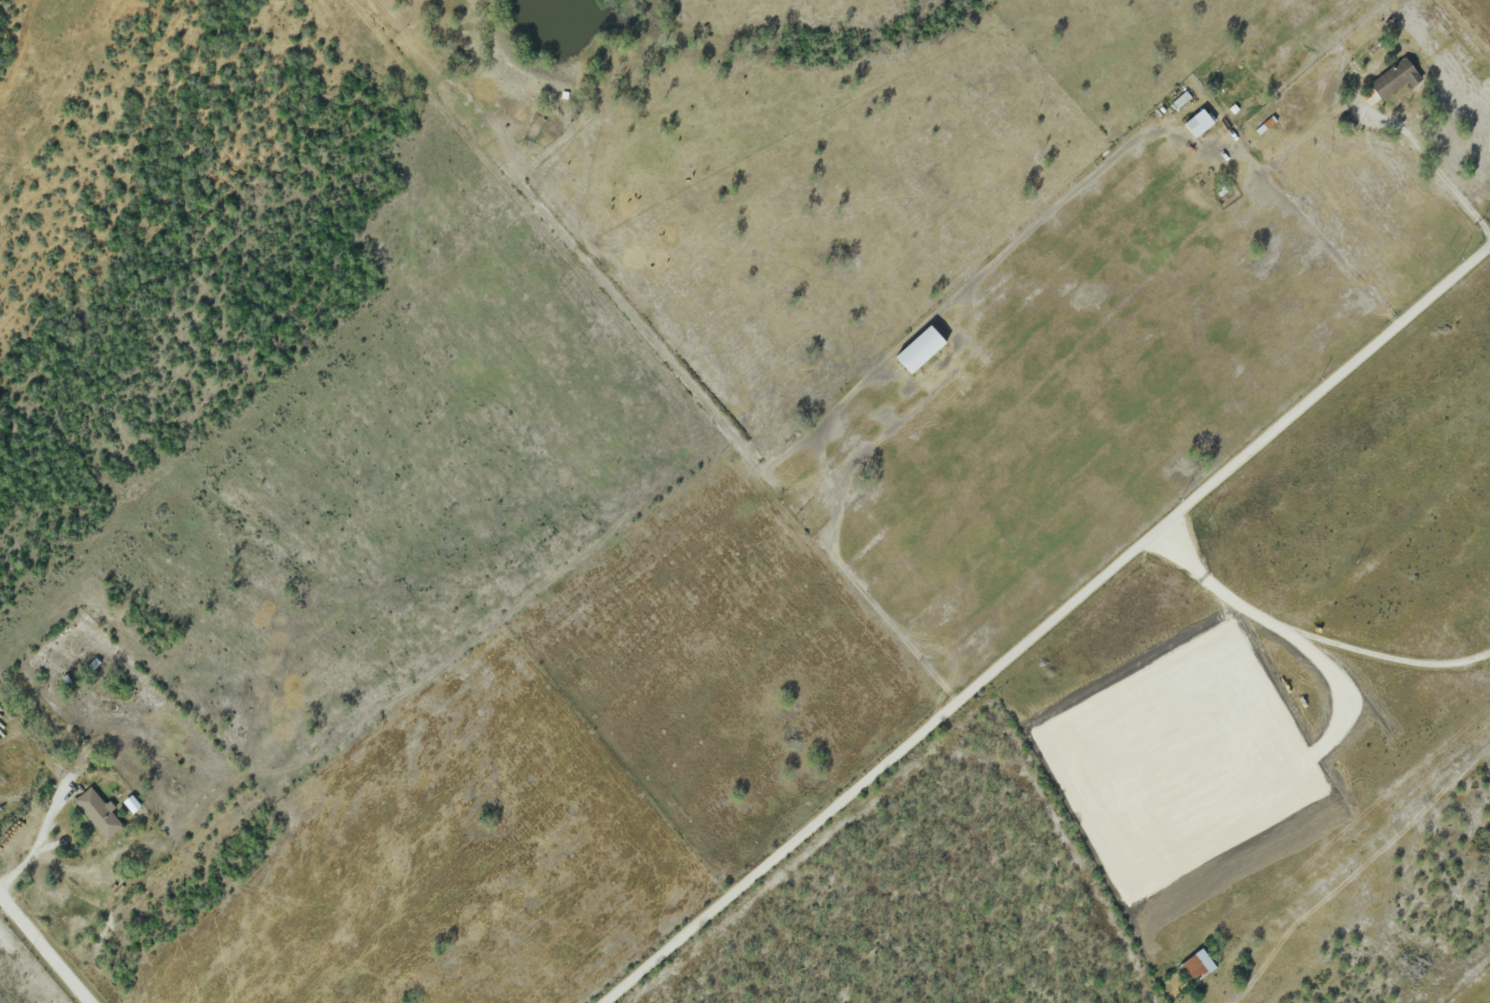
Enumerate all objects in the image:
building: (1394, 79)
building: (1198, 123)
road: (1431, 162)
road: (1274, 187)
road: (1046, 623)
road: (1311, 628)
building: (99, 812)
road: (40, 838)
road: (45, 948)
building: (1196, 965)

